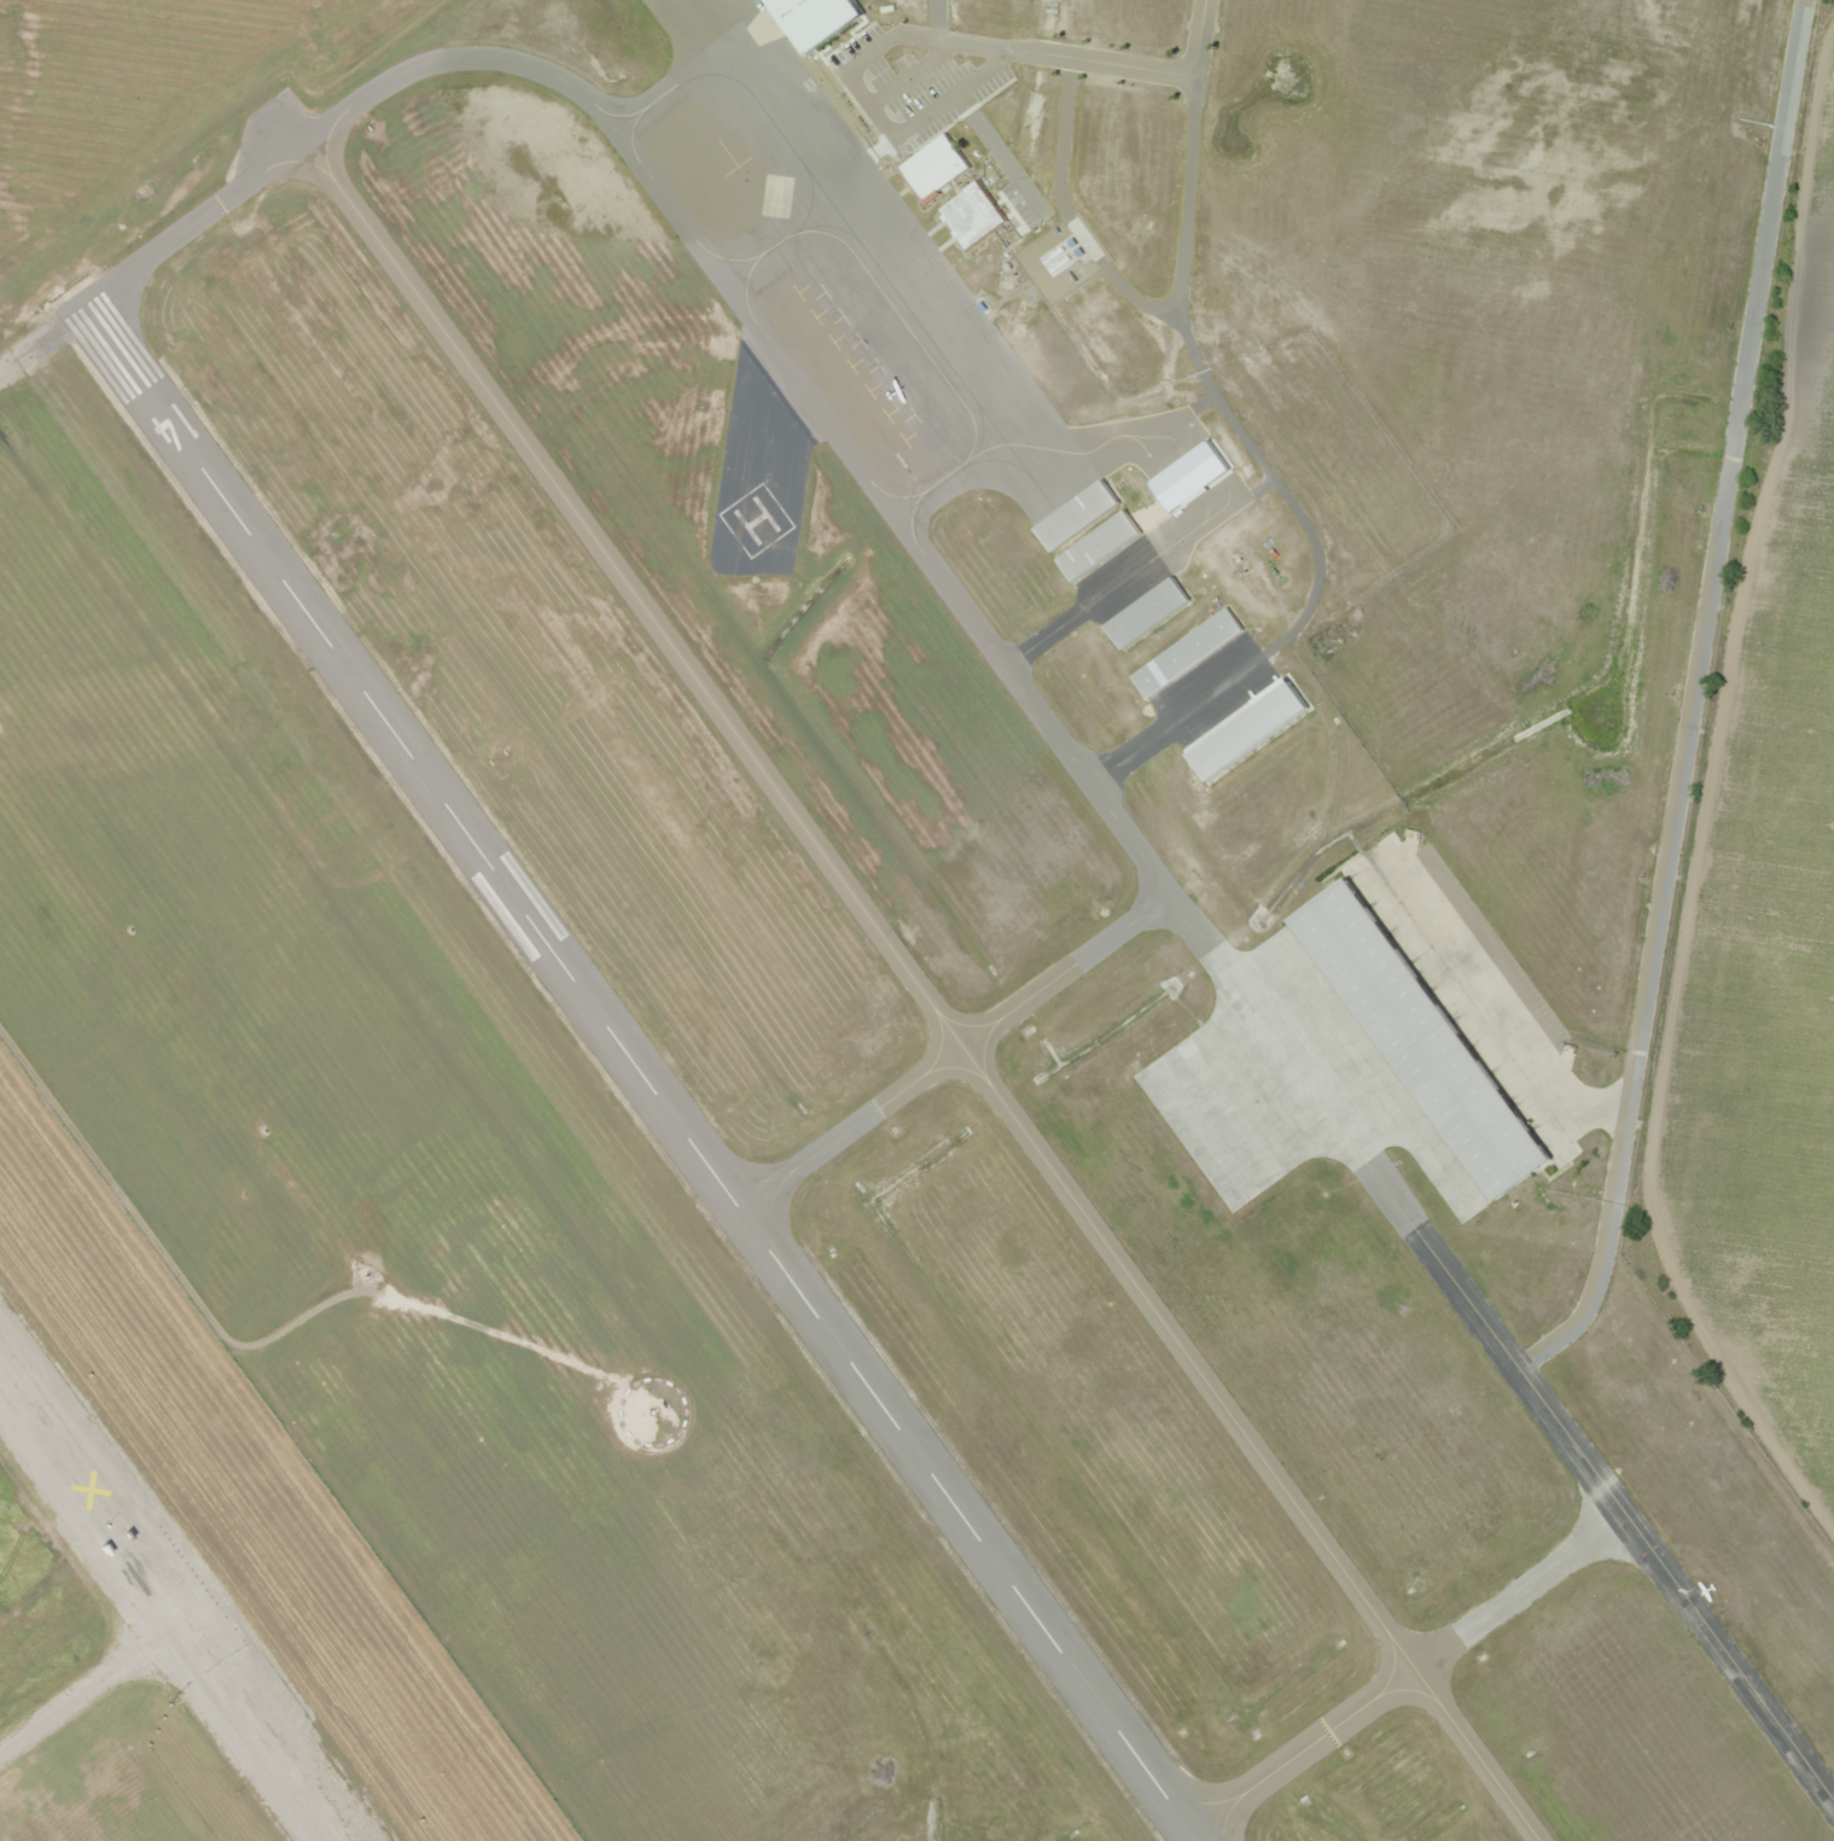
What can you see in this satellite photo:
building: (813, 18)
road: (1135, 68)
road: (909, 74)
road: (855, 93)
road: (998, 155)
building: (931, 167)
airport apron: (858, 272)
building: (1075, 514)
helipad: (751, 515)
building: (1096, 544)
building: (1145, 612)
building: (1184, 652)
airport taxiway: (1037, 707)
building: (1244, 729)
airport: (922, 869)
road: (1749, 903)
airport taxiway: (920, 991)
building: (1425, 1037)
airport taxiway: (955, 1051)
airport apron: (1355, 1059)
airport runway: (637, 1073)
airport apron: (1224, 1102)
road: (170, 1607)
airport taxiway: (1408, 1673)

